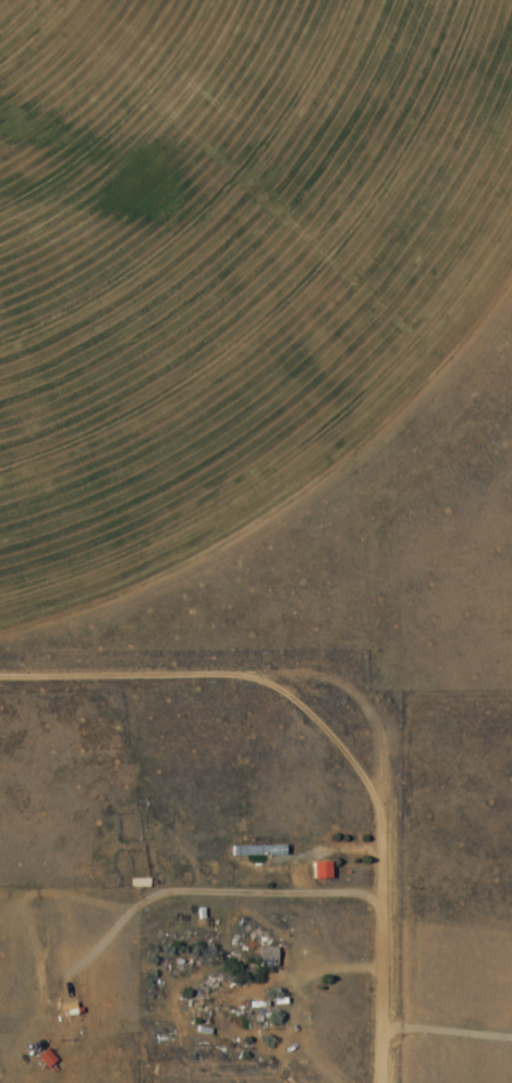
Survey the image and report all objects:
crop: (227, 257)
road: (171, 676)
building: (317, 871)
road: (379, 899)
road: (241, 908)
building: (265, 957)
building: (230, 1002)
building: (69, 1006)

